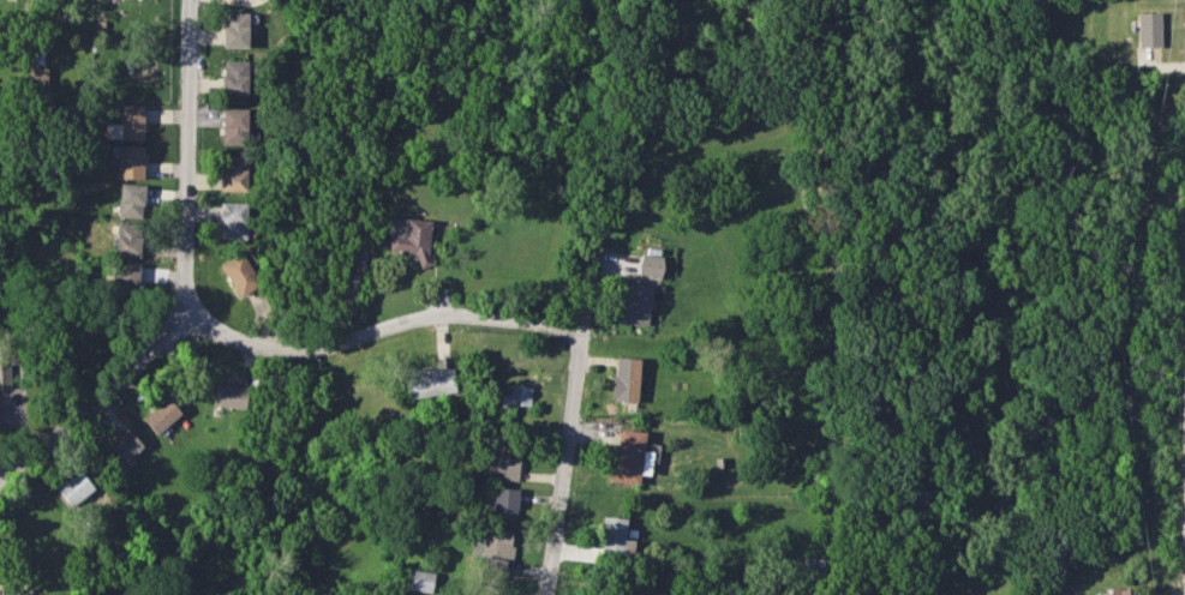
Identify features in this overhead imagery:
building: (234, 29)
building: (1148, 29)
building: (234, 77)
building: (36, 78)
building: (127, 124)
building: (233, 125)
road: (191, 155)
building: (130, 161)
building: (233, 173)
building: (131, 200)
building: (232, 221)
building: (409, 238)
building: (127, 239)
building: (650, 266)
building: (239, 275)
building: (636, 303)
road: (382, 326)
building: (4, 368)
building: (626, 379)
building: (429, 383)
road: (97, 393)
building: (229, 396)
building: (516, 396)
building: (161, 414)
road: (569, 422)
building: (124, 447)
building: (628, 458)
building: (504, 461)
building: (74, 488)
building: (504, 503)
building: (491, 551)
building: (419, 581)
building: (1120, 591)
building: (13, 594)

